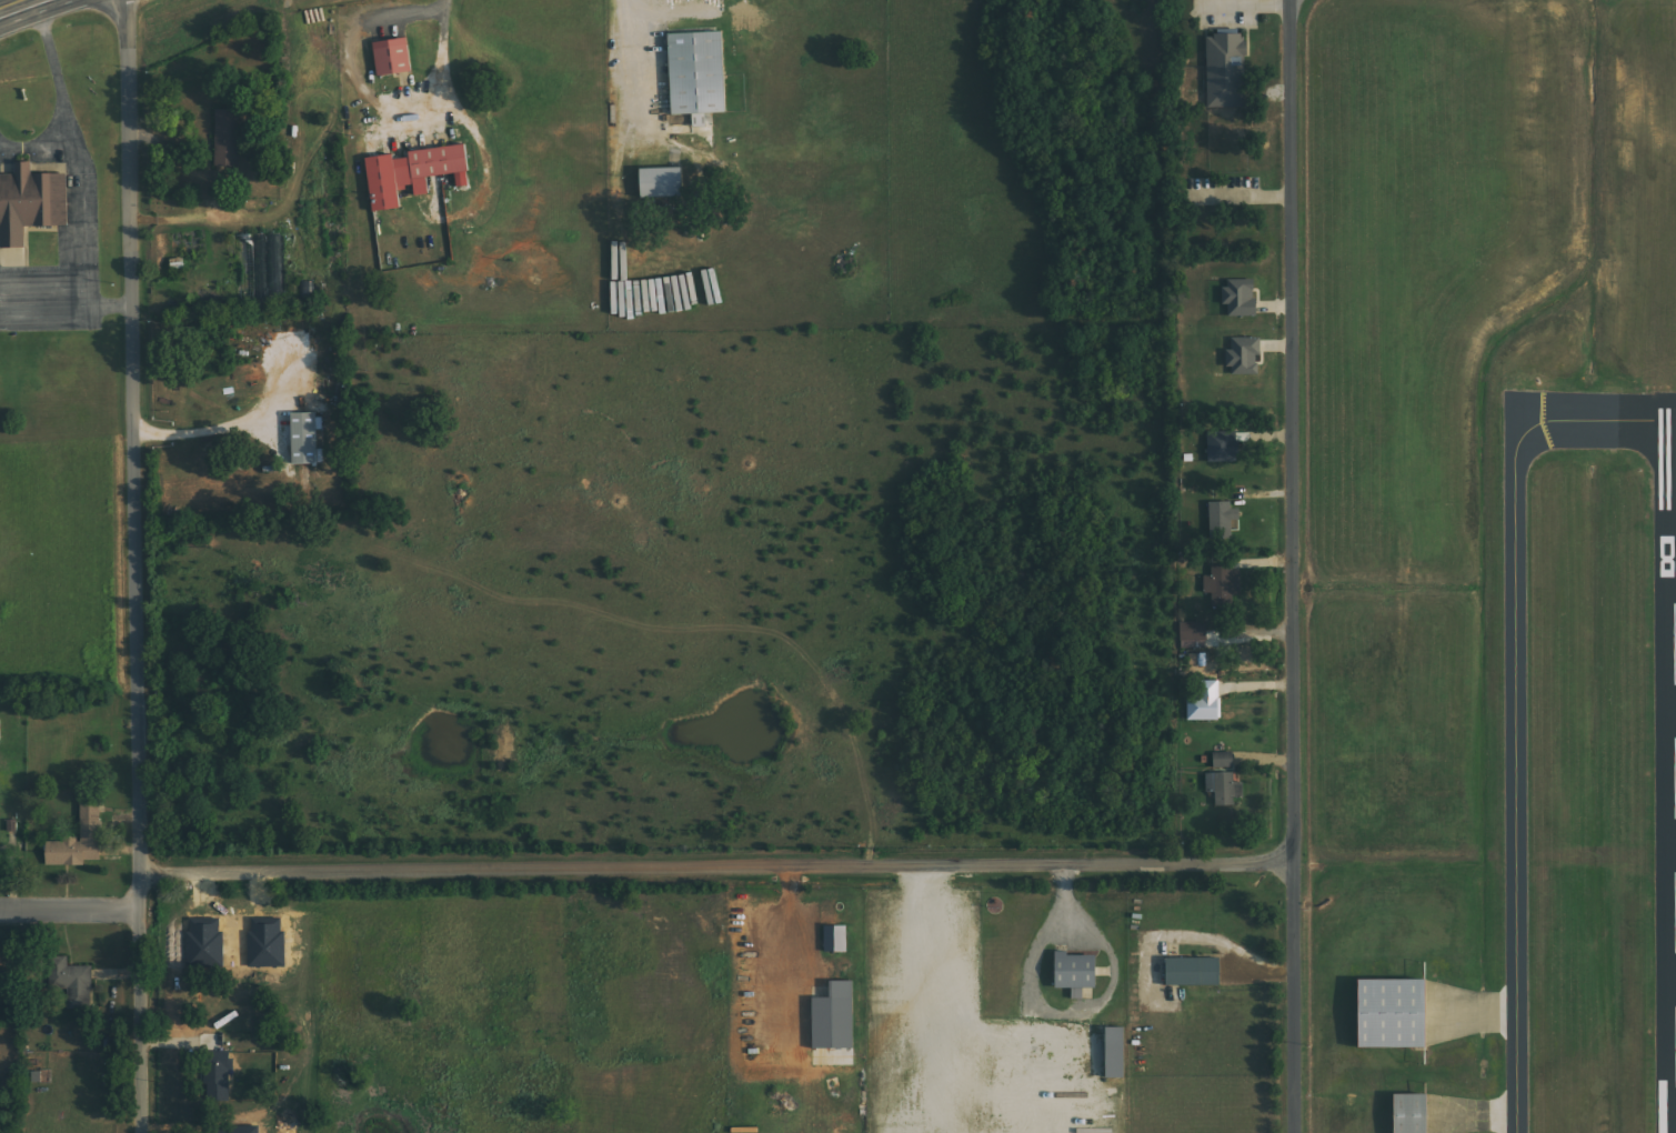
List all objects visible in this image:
road: (17, 6)
building: (394, 58)
building: (1227, 71)
building: (704, 88)
building: (228, 138)
building: (414, 173)
building: (663, 183)
building: (31, 204)
building: (1242, 298)
building: (1245, 357)
road: (1293, 431)
building: (308, 440)
building: (1225, 447)
building: (1224, 520)
road: (132, 566)
building: (1224, 584)
building: (1195, 635)
airport runway: (1675, 644)
building: (1207, 705)
airport taxiway: (1514, 705)
building: (0, 732)
building: (1226, 780)
building: (80, 839)
road: (716, 868)
road: (67, 910)
building: (836, 939)
building: (1, 966)
building: (1194, 971)
building: (1078, 973)
building: (73, 982)
road: (1293, 999)
building: (1395, 1014)
building: (836, 1017)
building: (1117, 1052)
building: (218, 1075)
building: (1412, 1113)

